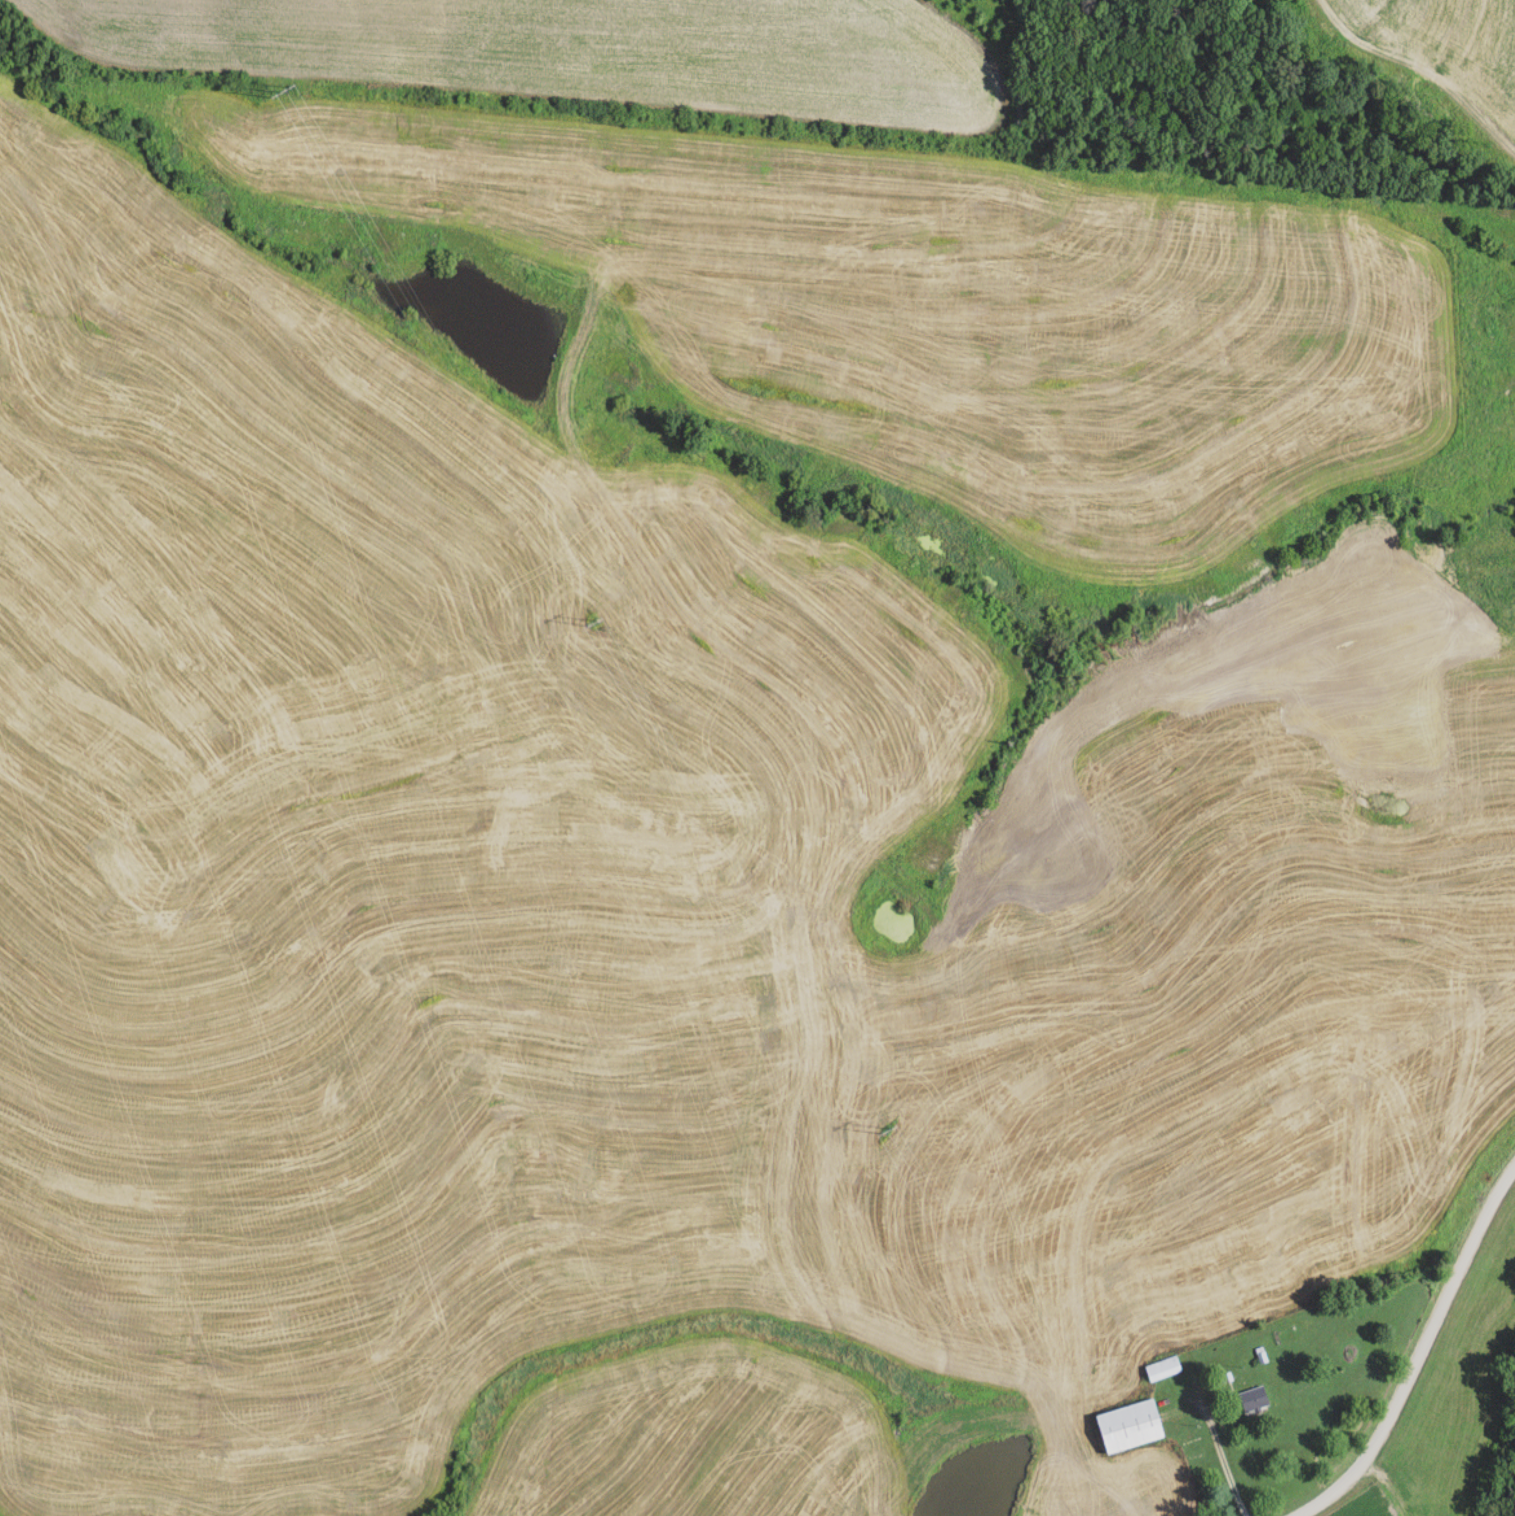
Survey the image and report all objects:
road: (1418, 1349)
building: (1158, 1369)
building: (1248, 1401)
building: (1123, 1427)
building: (1178, 1429)
road: (1214, 1443)

